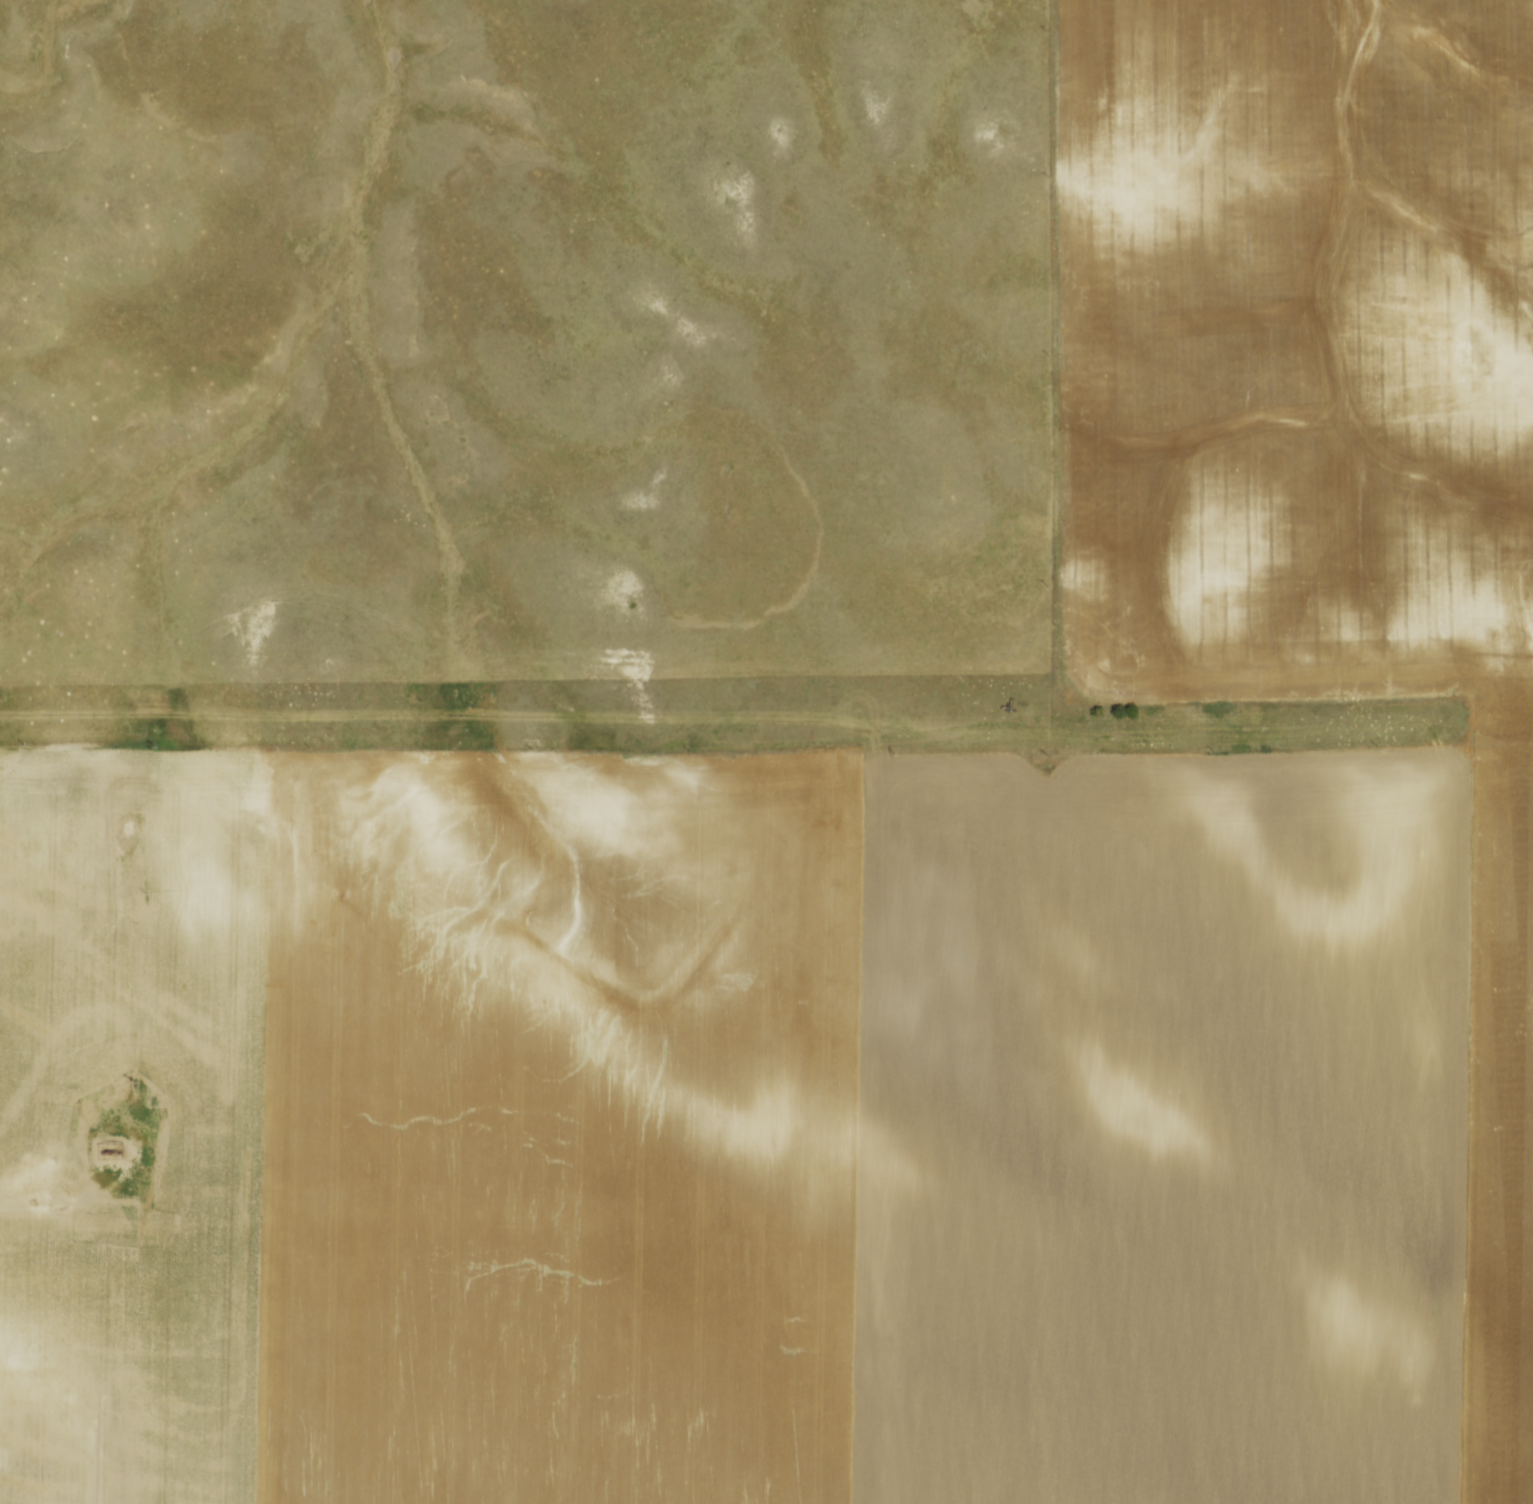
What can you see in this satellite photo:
crop: (884, 951)

